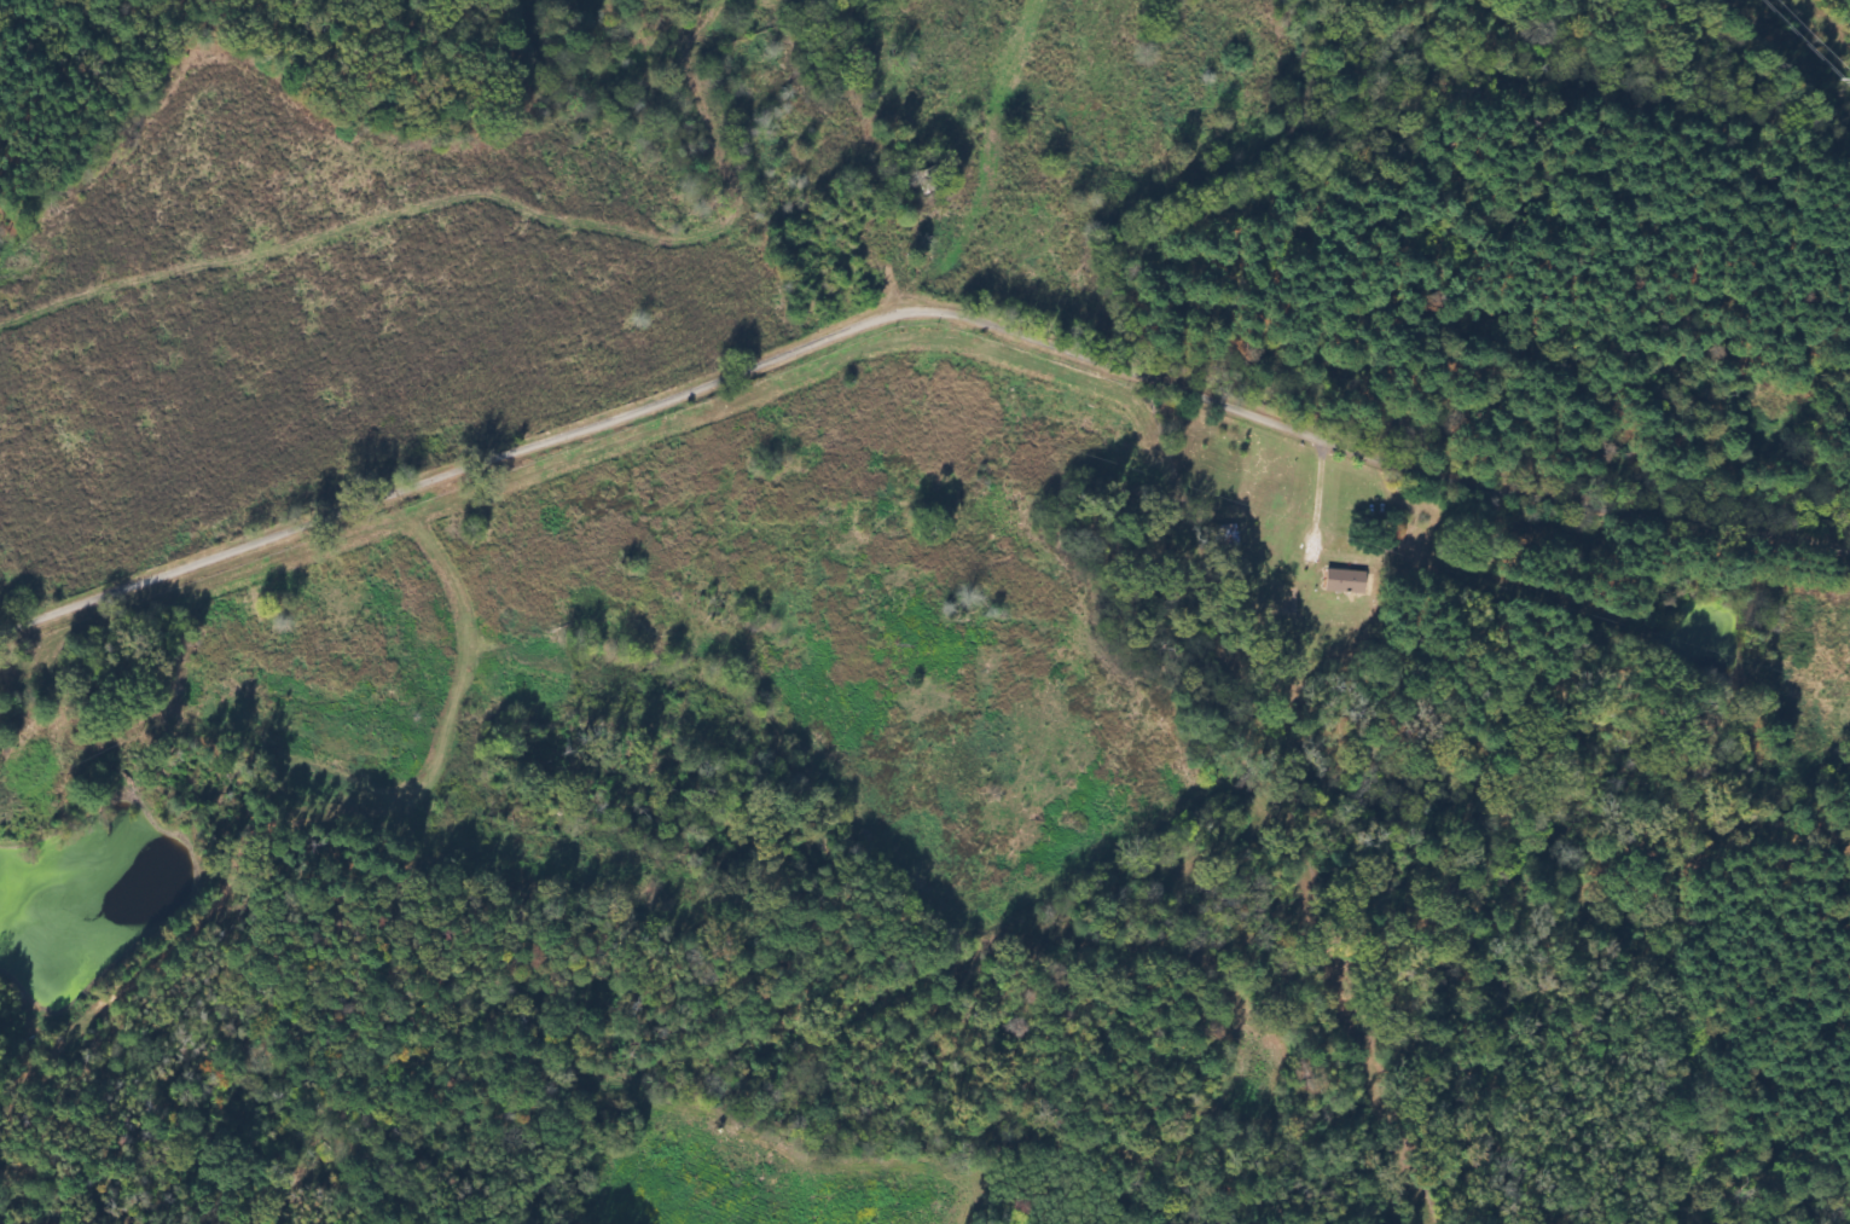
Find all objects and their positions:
road: (920, 327)
building: (1346, 580)

